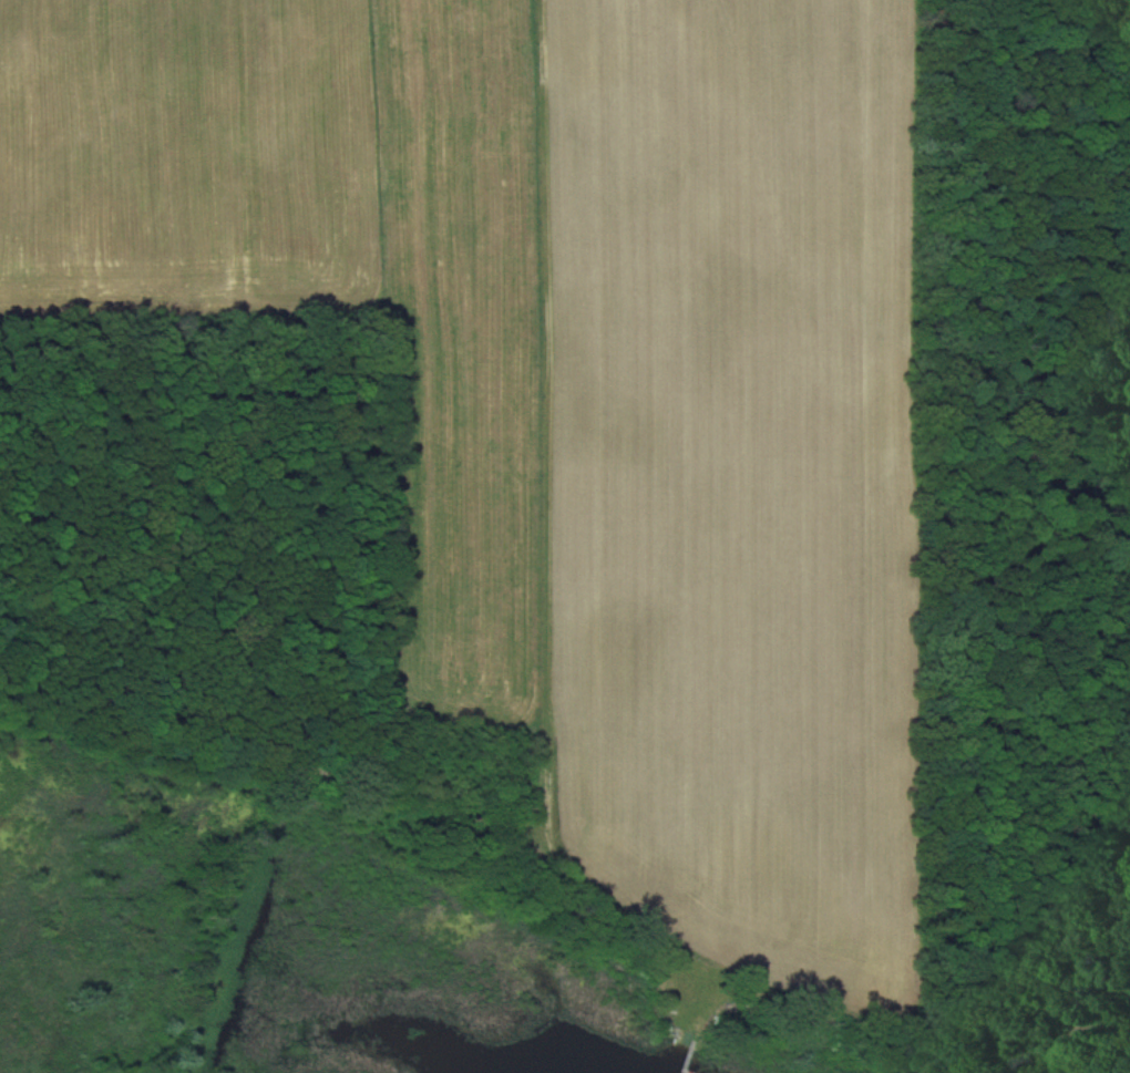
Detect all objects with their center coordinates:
pier: (676, 1055)

